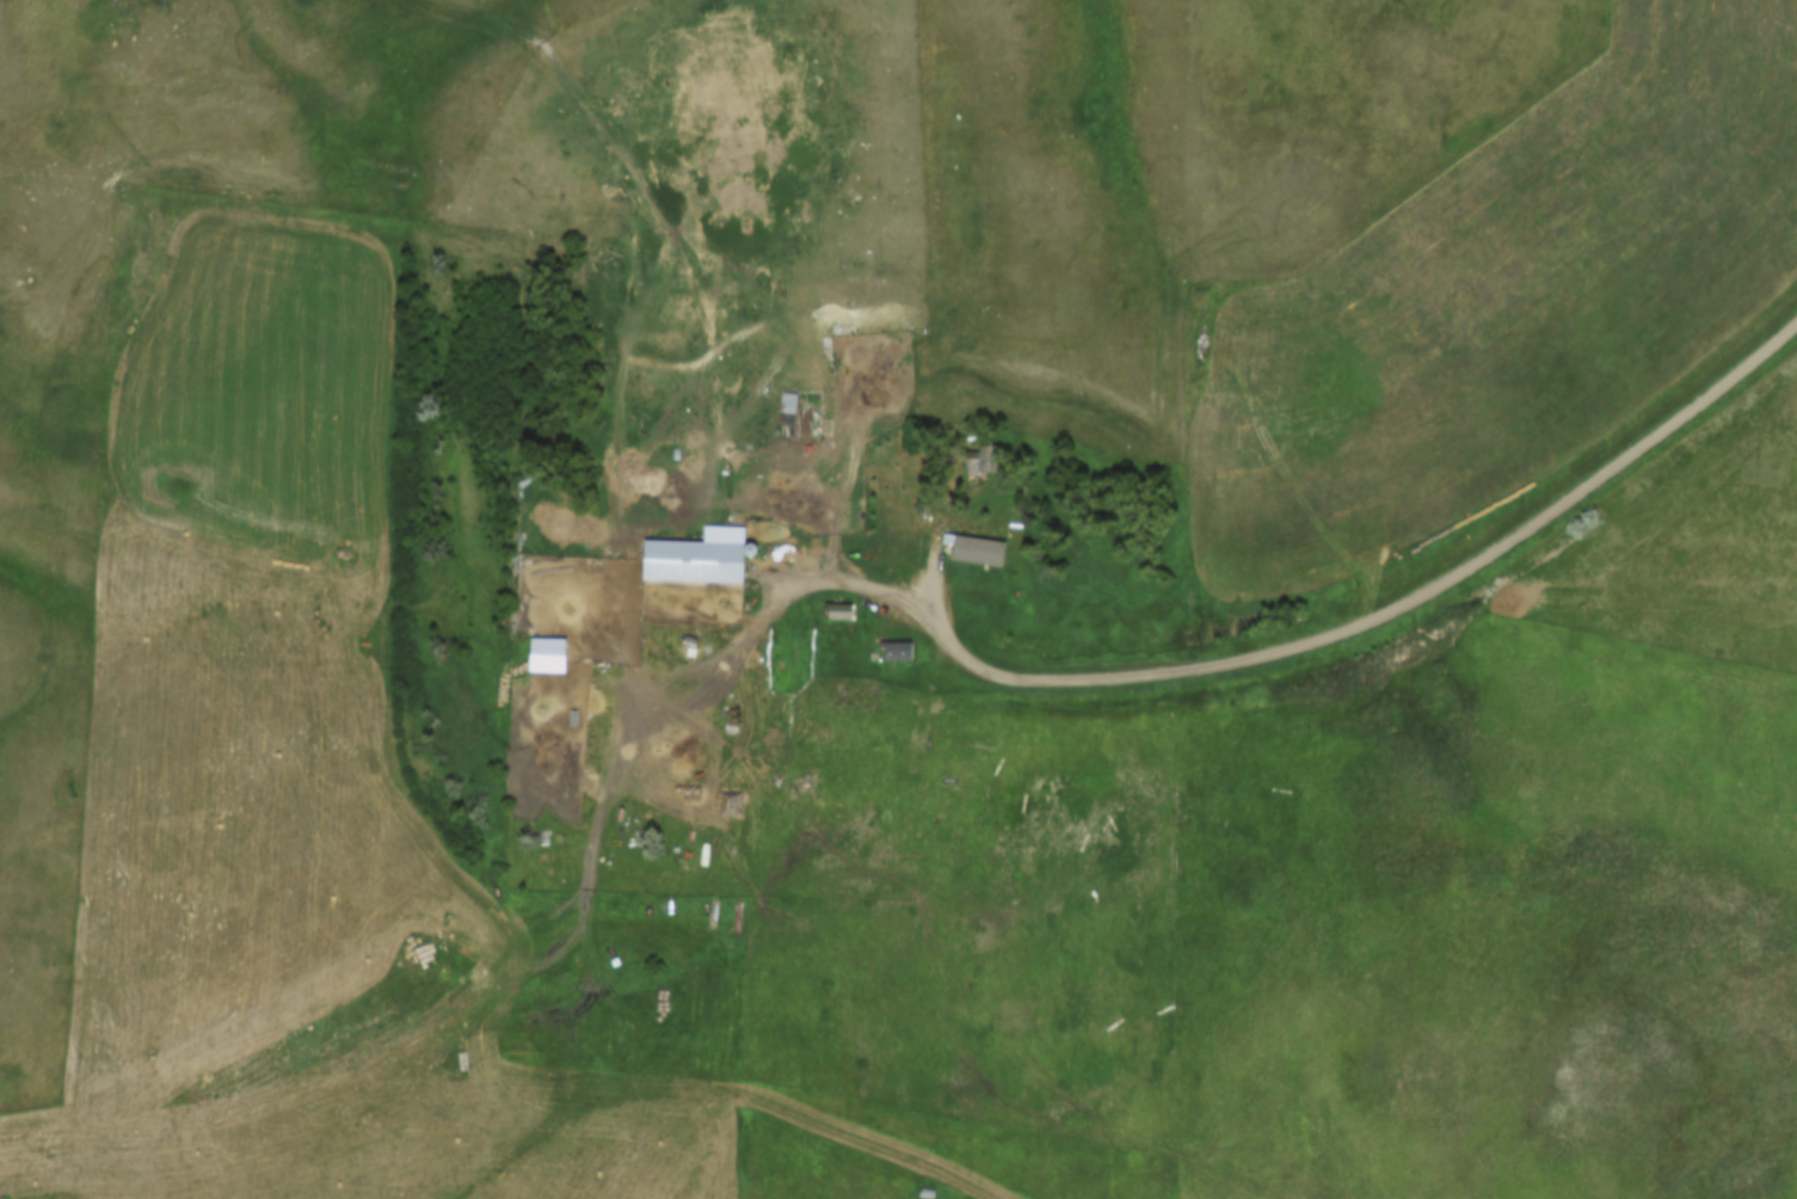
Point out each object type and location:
building: (796, 412)
building: (694, 561)
building: (838, 621)
building: (898, 652)
road: (1279, 654)

